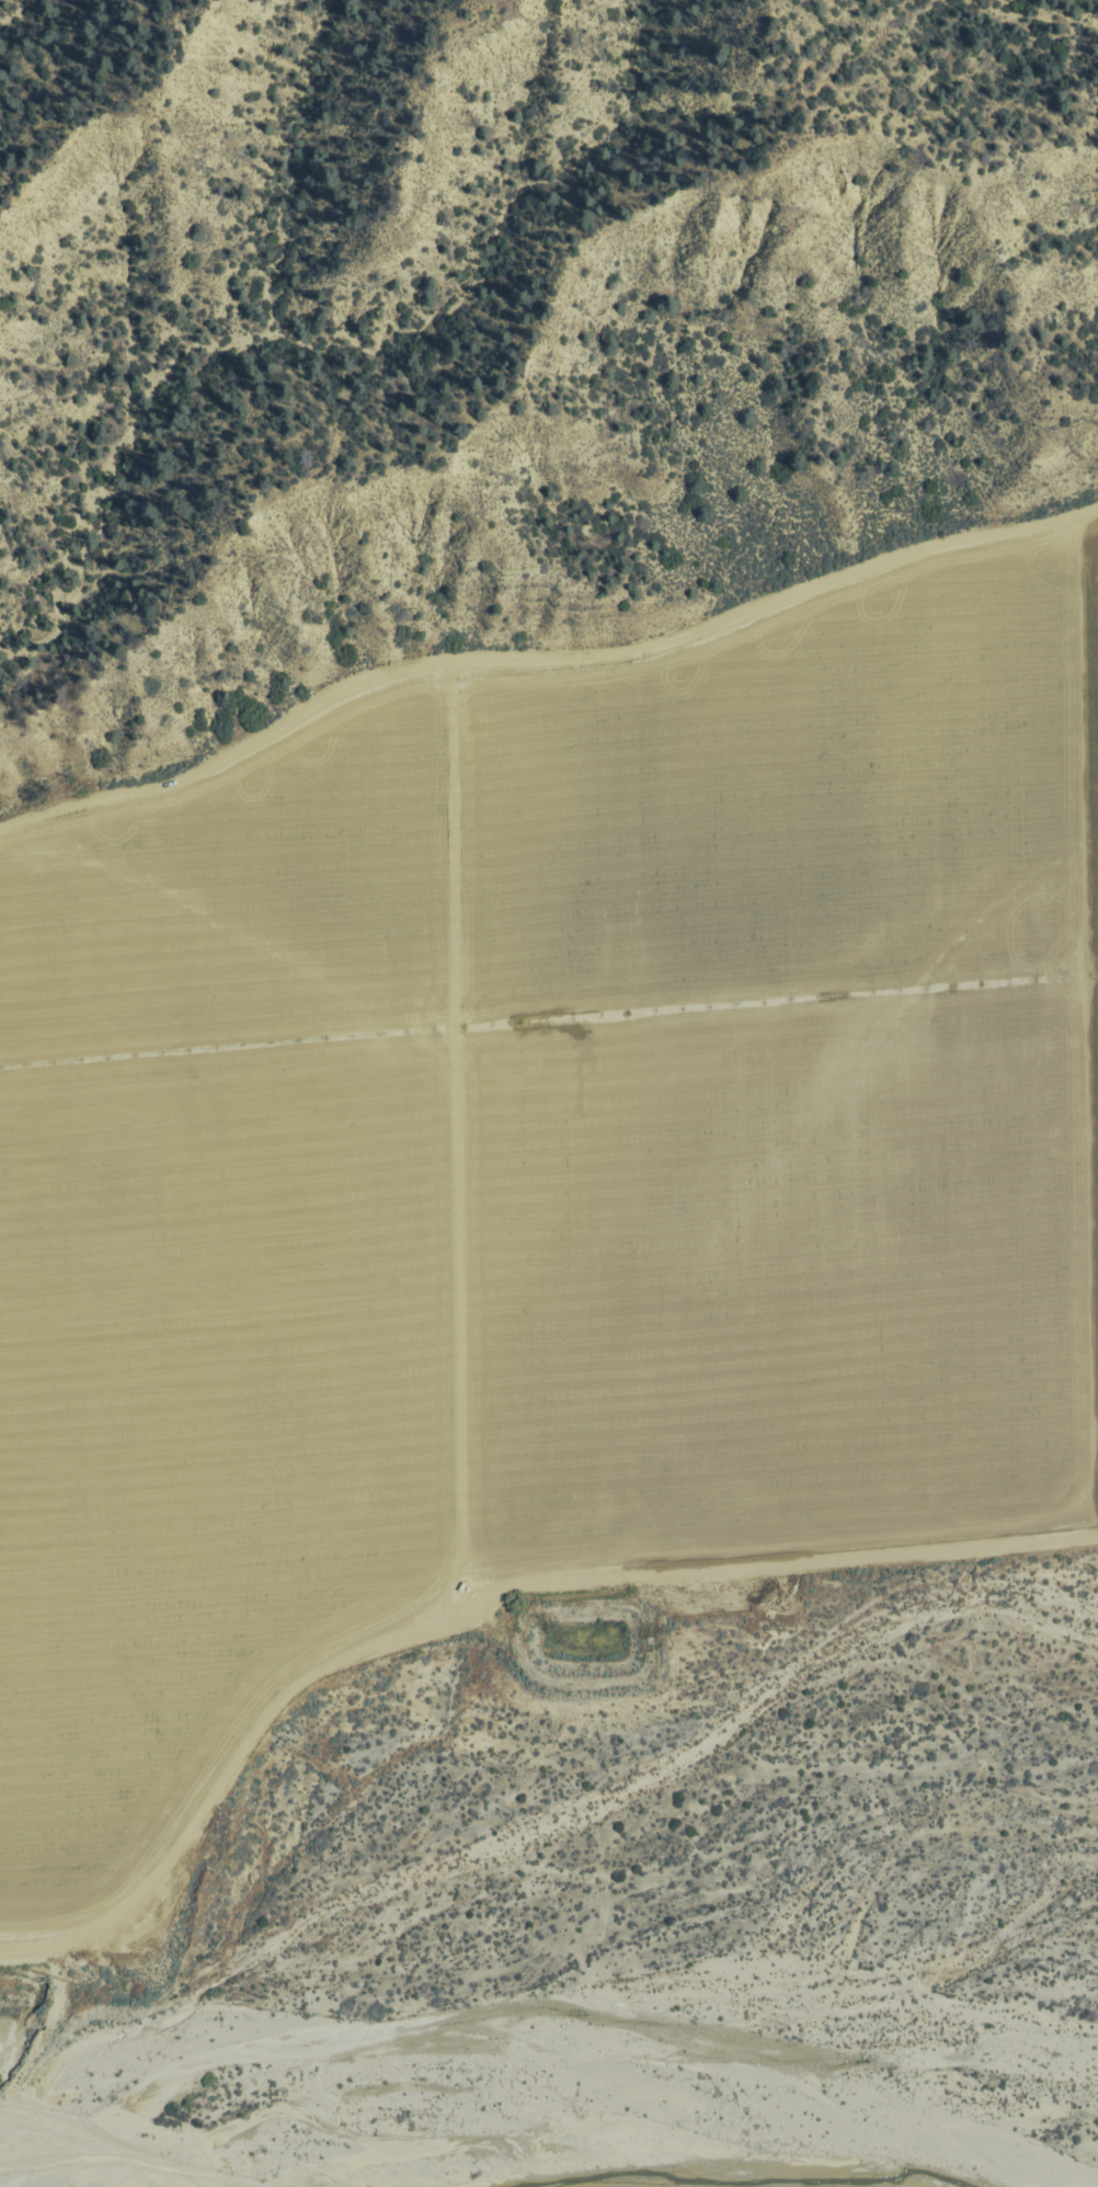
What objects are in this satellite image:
road: (469, 1594)
river: (752, 1955)

